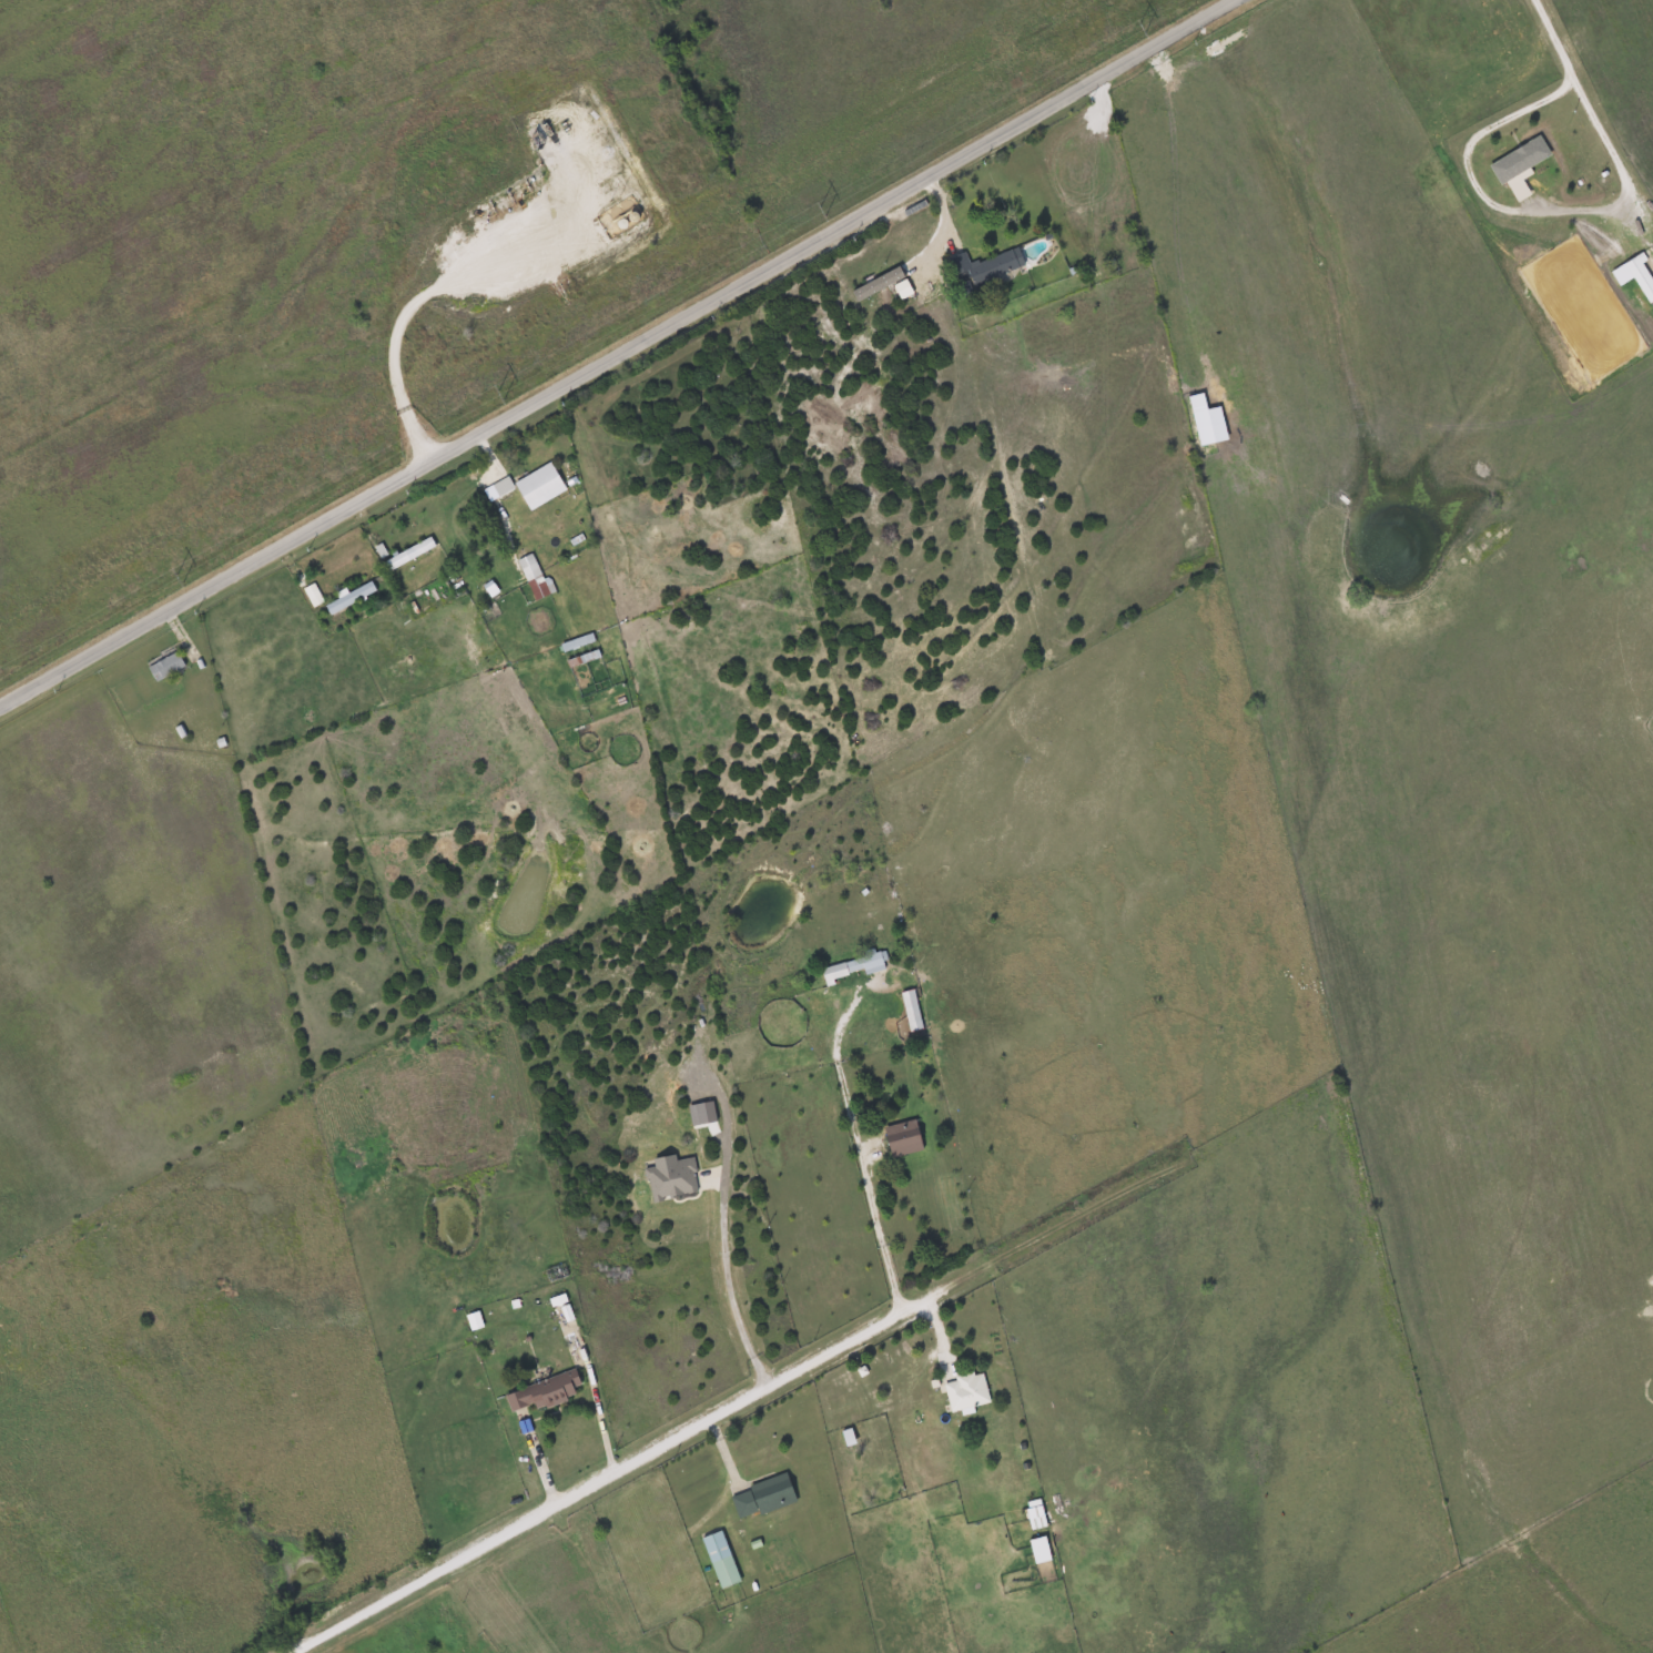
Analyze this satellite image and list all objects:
road: (1555, 32)
building: (1518, 168)
road: (1532, 205)
road: (940, 211)
building: (985, 268)
building: (1640, 277)
road: (418, 304)
road: (607, 348)
road: (483, 448)
building: (538, 486)
building: (501, 487)
building: (408, 554)
building: (533, 577)
building: (312, 596)
building: (348, 598)
building: (577, 642)
building: (165, 667)
building: (853, 966)
building: (910, 1011)
building: (901, 1139)
road: (865, 1150)
road: (730, 1279)
building: (507, 1341)
building: (542, 1392)
building: (965, 1395)
road: (666, 1442)
road: (536, 1459)
building: (761, 1498)
building: (1034, 1514)
building: (1038, 1550)
building: (719, 1560)

